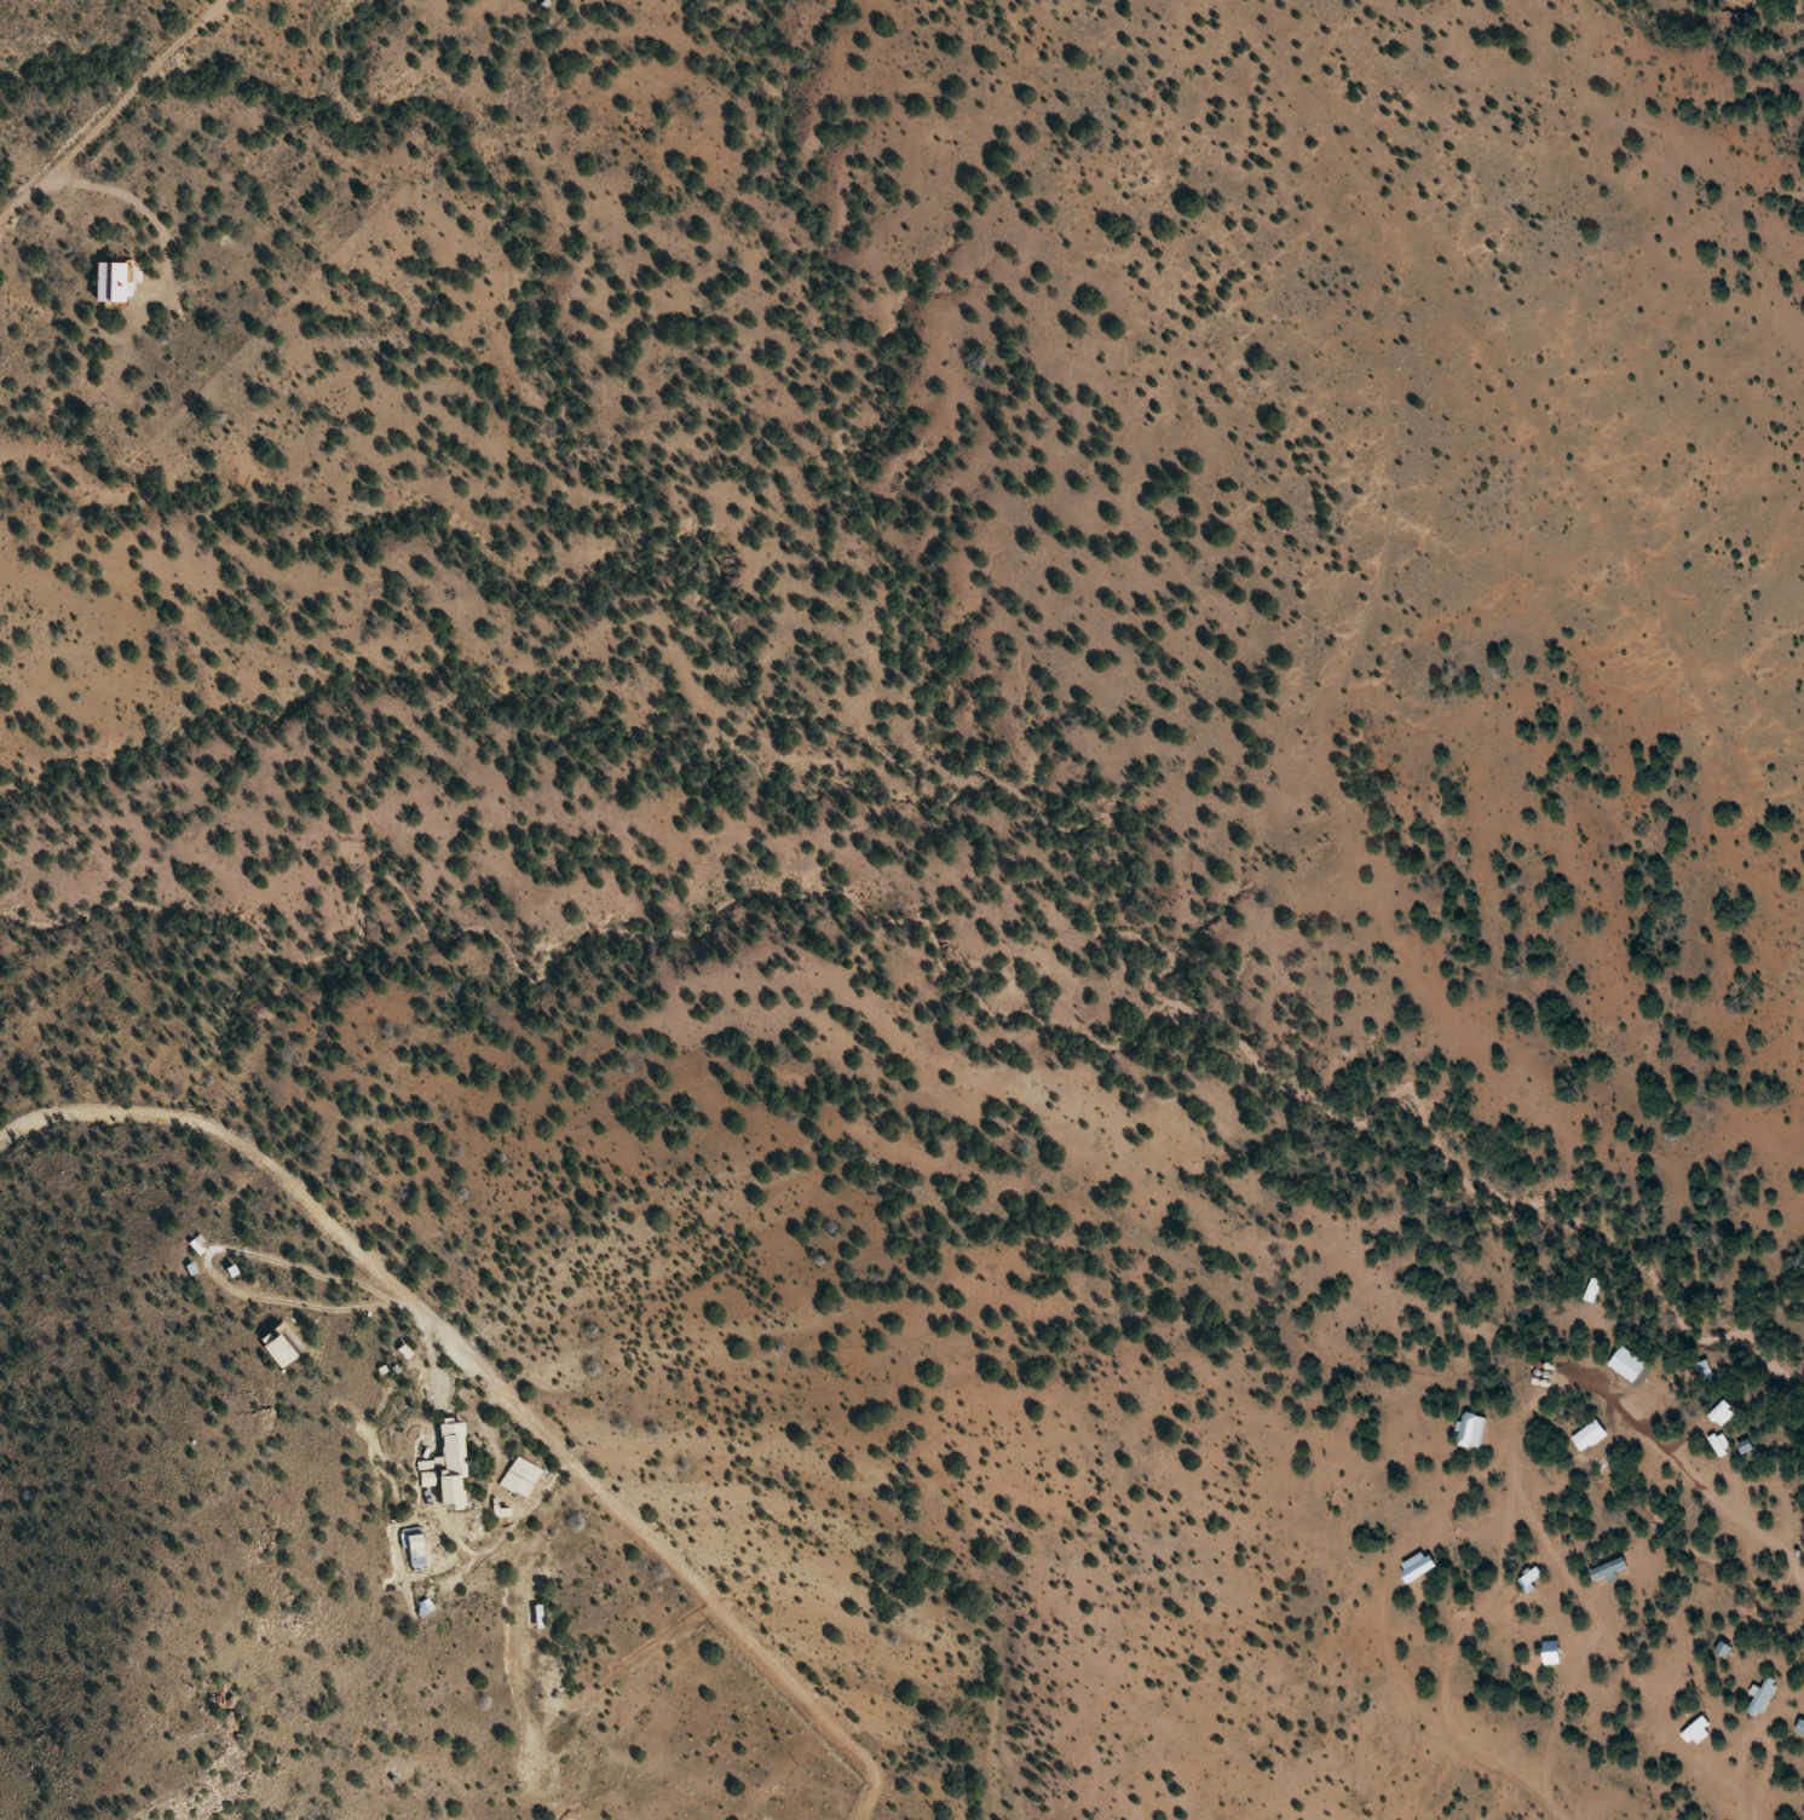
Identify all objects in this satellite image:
road: (111, 113)
building: (106, 281)
road: (1570, 468)
building: (276, 1347)
building: (1627, 1365)
road: (500, 1376)
building: (1723, 1413)
building: (1471, 1430)
building: (1589, 1435)
road: (1700, 1455)
building: (445, 1467)
building: (517, 1478)
building: (413, 1553)
building: (1608, 1570)
building: (1762, 1697)
building: (1800, 1726)
building: (1696, 1729)

